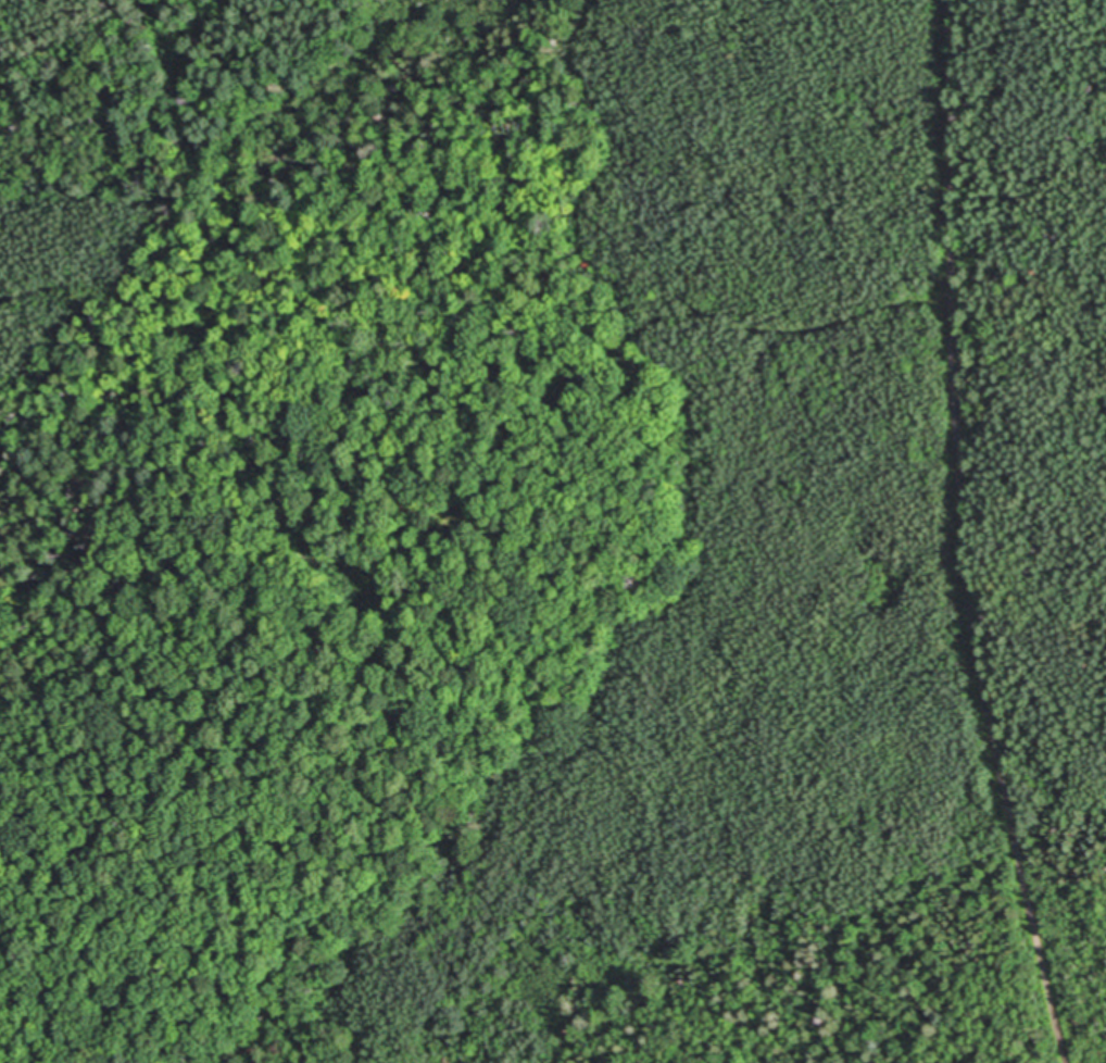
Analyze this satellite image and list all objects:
road: (966, 536)

